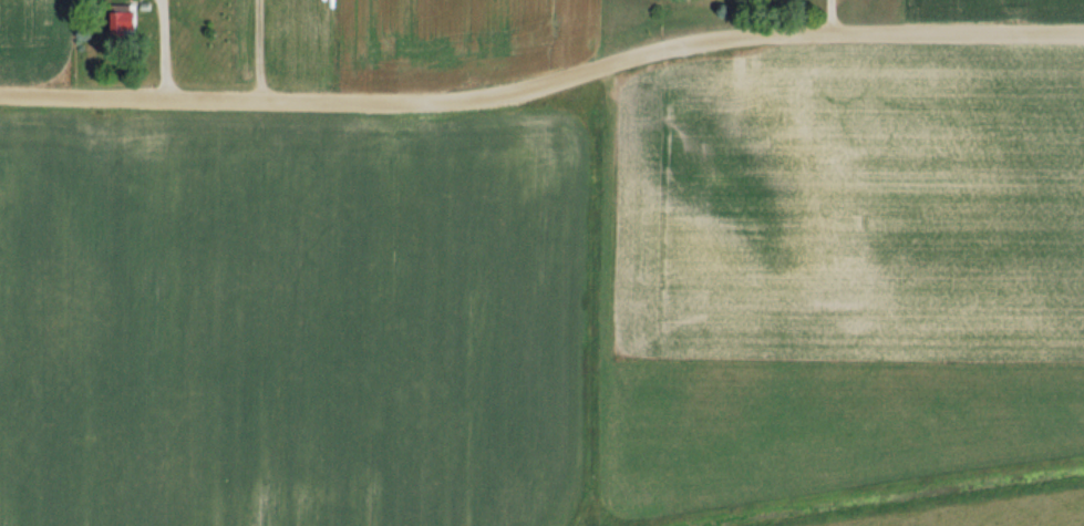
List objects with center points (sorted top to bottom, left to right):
building: (126, 19)
road: (164, 47)
road: (545, 84)

